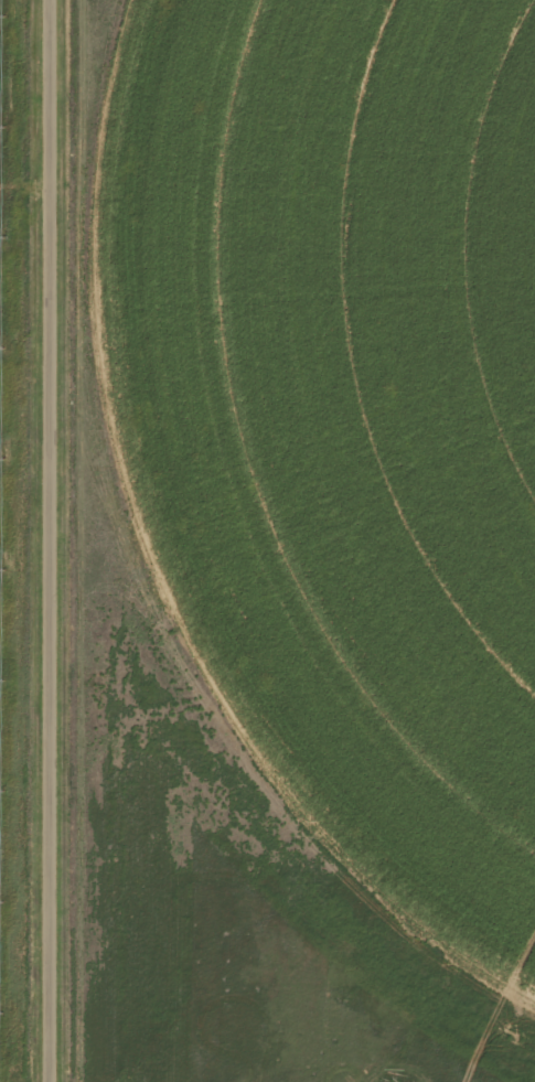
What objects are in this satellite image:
road: (51, 540)

